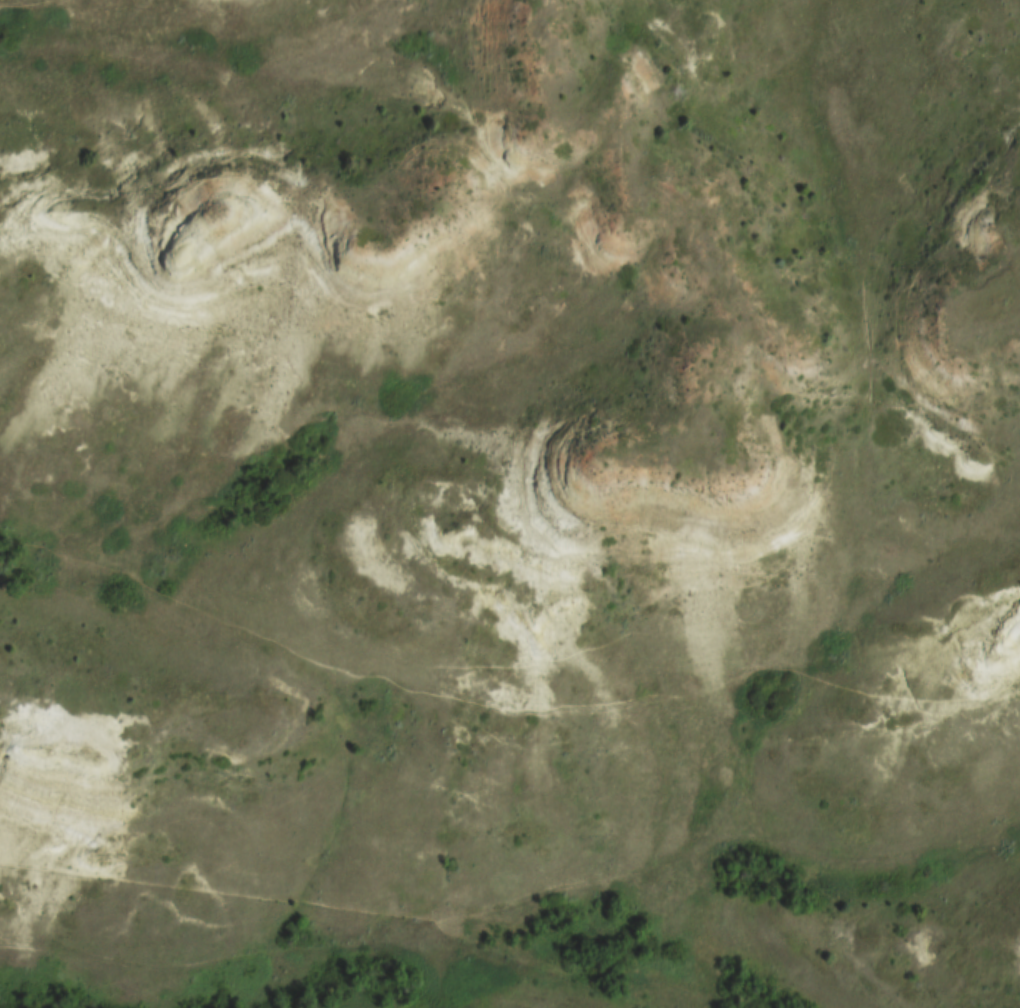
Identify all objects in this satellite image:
road: (514, 892)
road: (446, 963)

